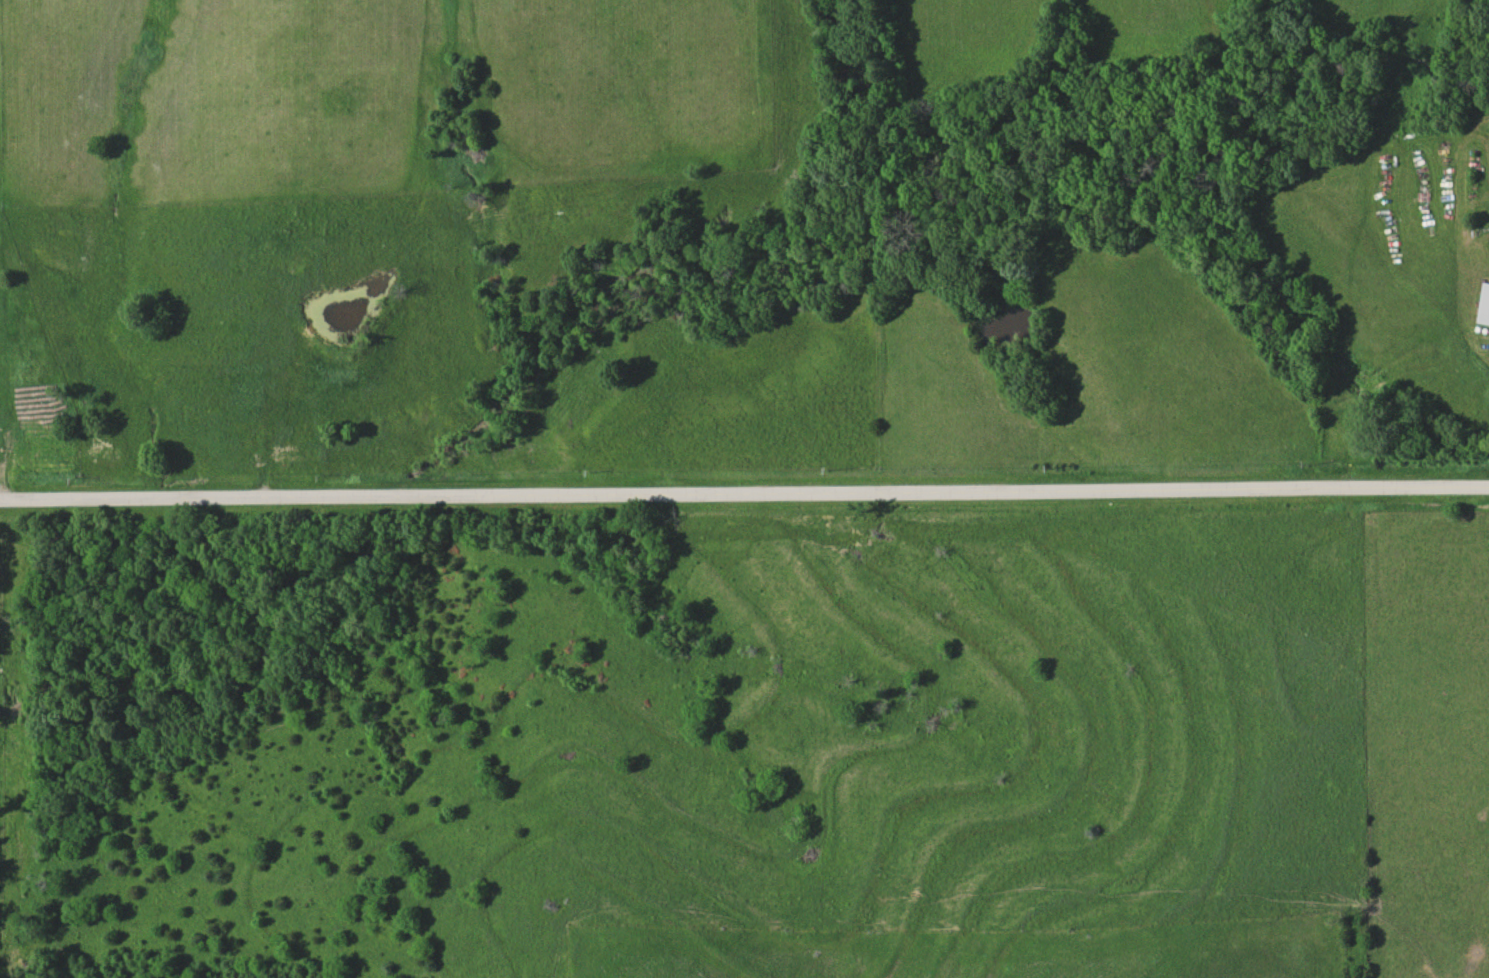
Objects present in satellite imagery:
building: (1483, 306)
road: (744, 491)

